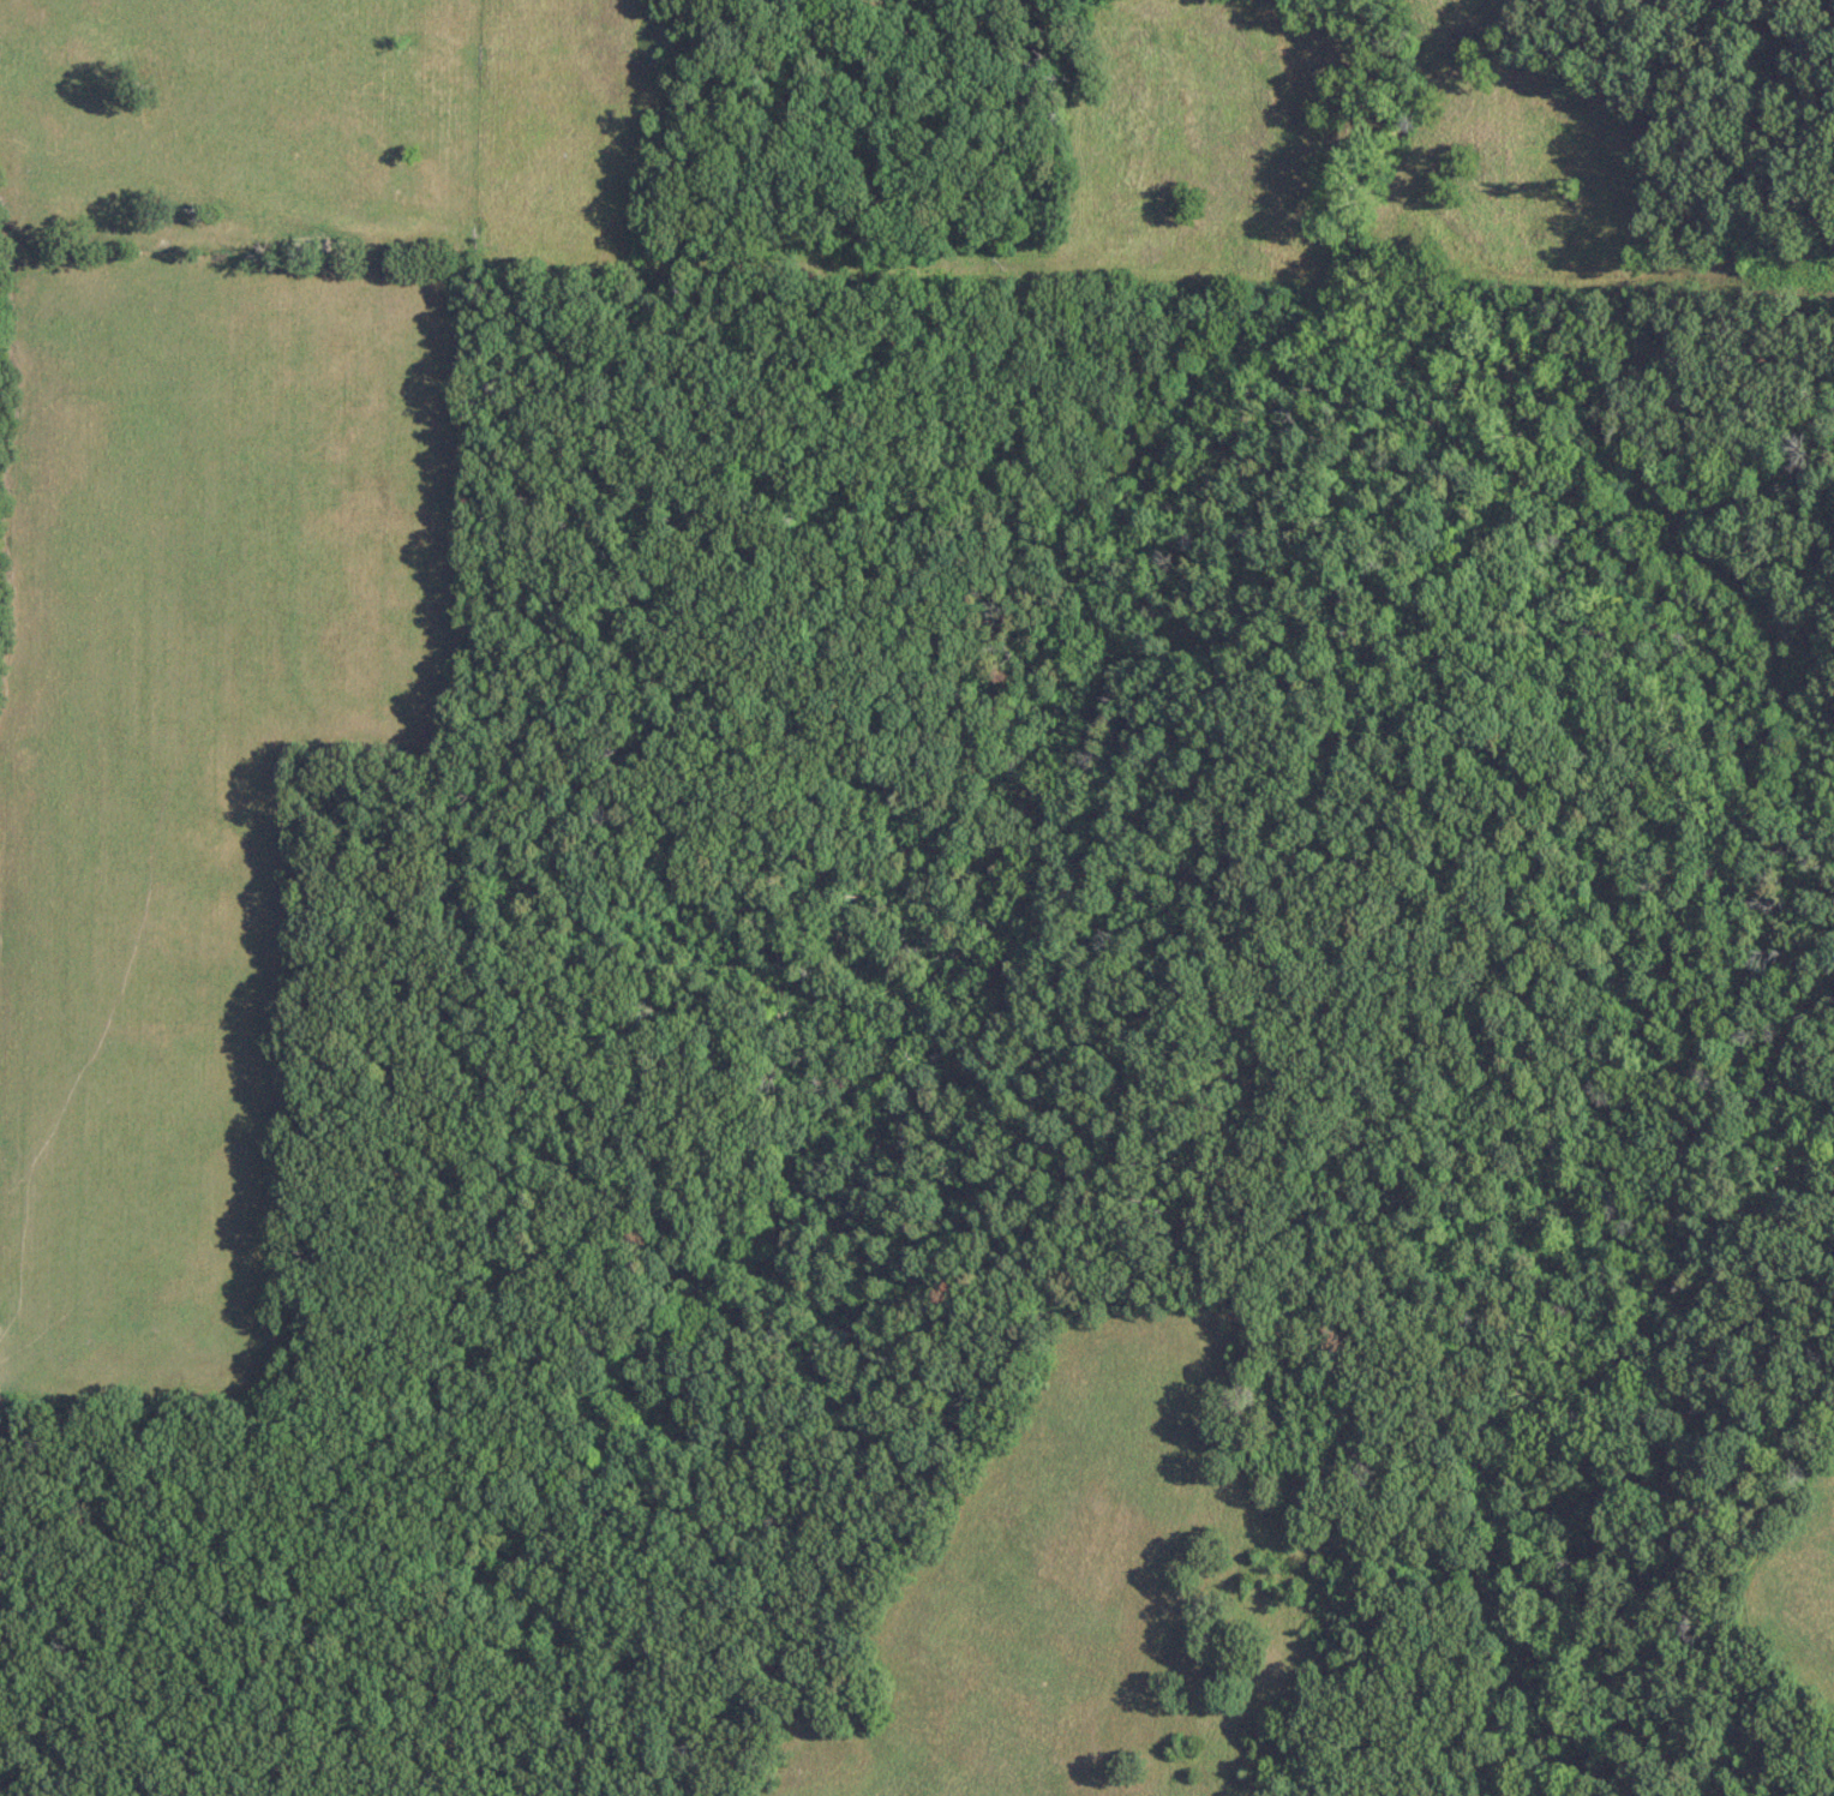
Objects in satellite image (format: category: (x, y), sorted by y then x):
road: (1632, 582)

